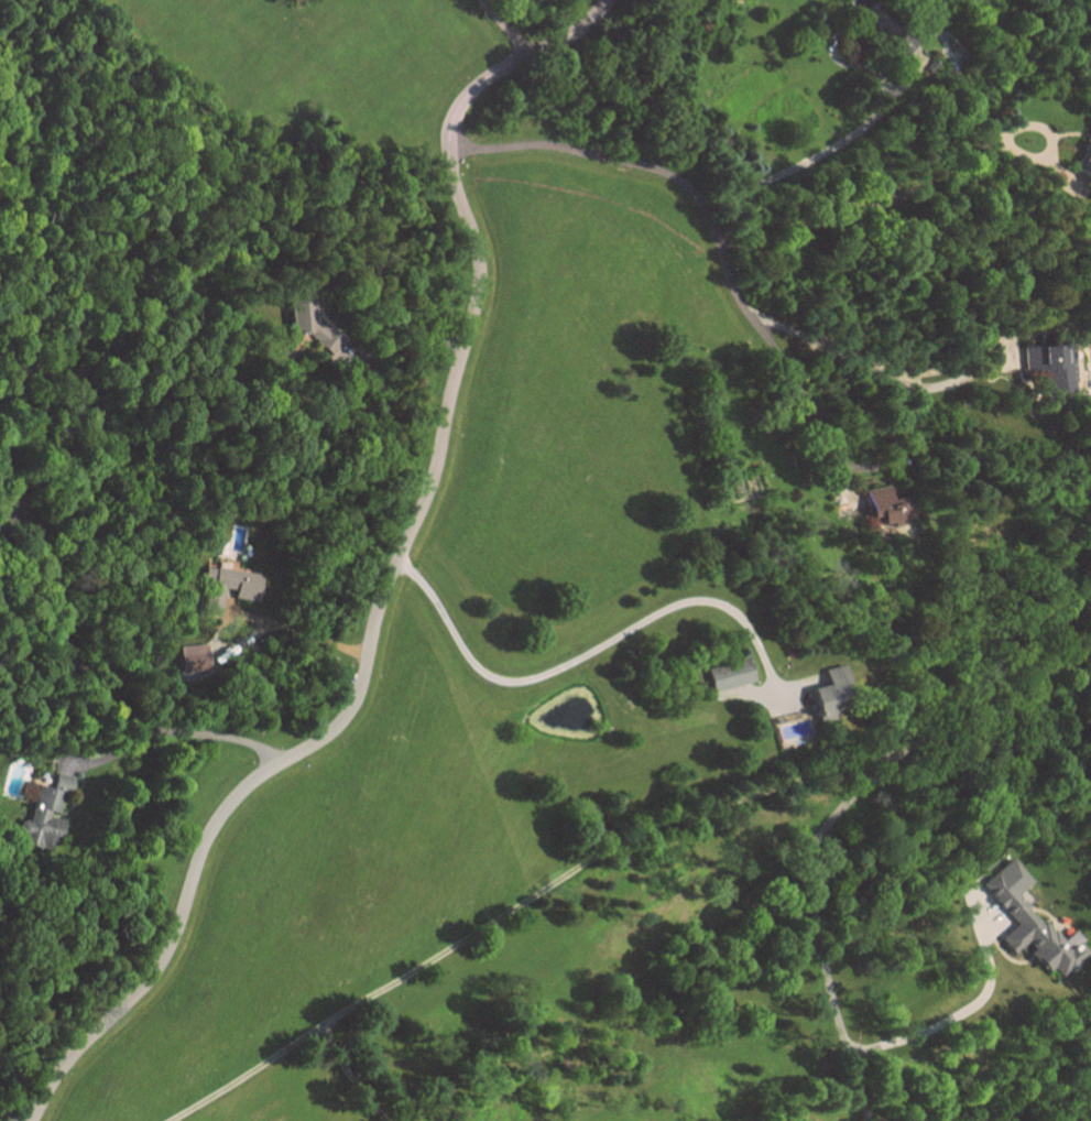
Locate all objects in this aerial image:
road: (500, 28)
road: (822, 149)
building: (1084, 152)
road: (875, 204)
road: (705, 213)
building: (315, 325)
road: (407, 339)
building: (1054, 364)
road: (956, 379)
road: (836, 460)
building: (891, 505)
road: (7, 519)
road: (391, 574)
building: (239, 581)
road: (305, 632)
road: (593, 647)
building: (198, 657)
road: (988, 668)
road: (85, 672)
building: (733, 674)
building: (836, 693)
building: (47, 814)
road: (514, 908)
building: (1034, 922)
road: (815, 927)
road: (950, 1017)
road: (351, 1076)
road: (6, 1110)

